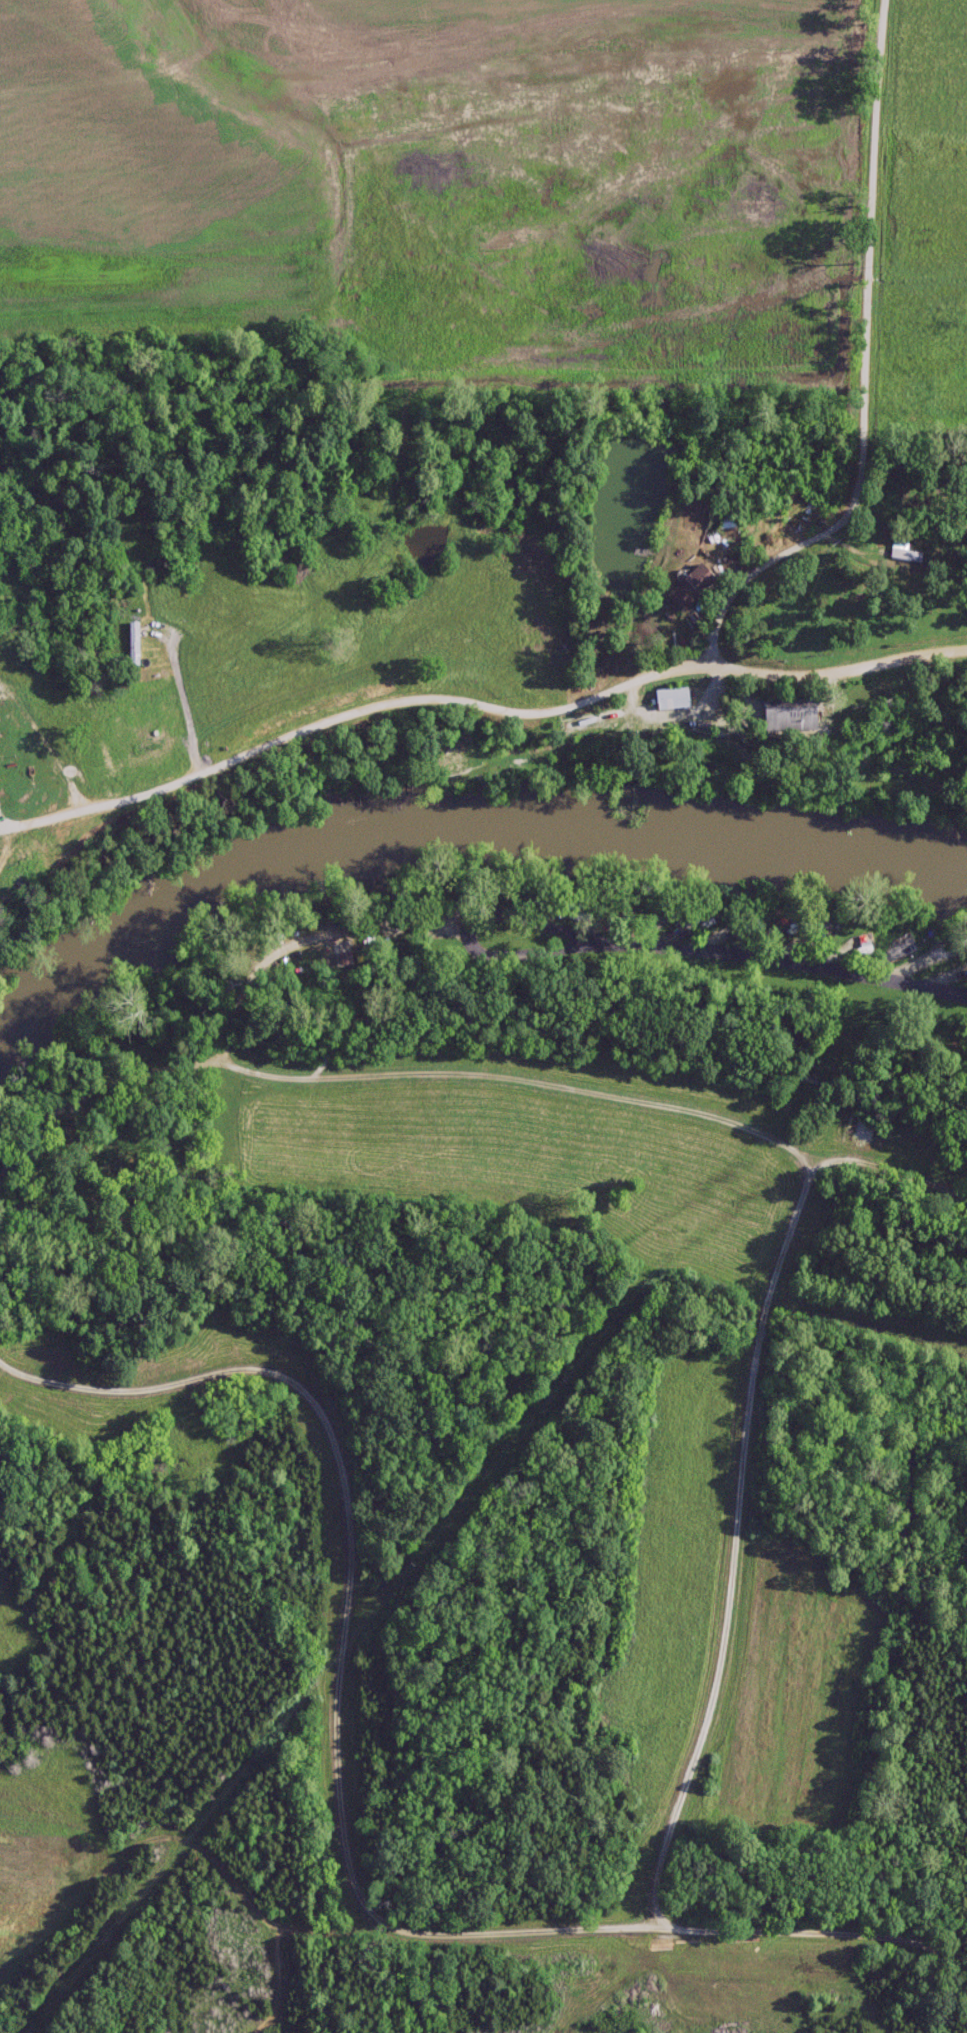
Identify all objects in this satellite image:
road: (865, 369)
building: (729, 523)
building: (905, 553)
building: (688, 586)
building: (669, 699)
road: (479, 702)
building: (784, 716)
building: (140, 746)
road: (562, 942)
road: (769, 1134)
road: (345, 1633)
road: (812, 1934)

